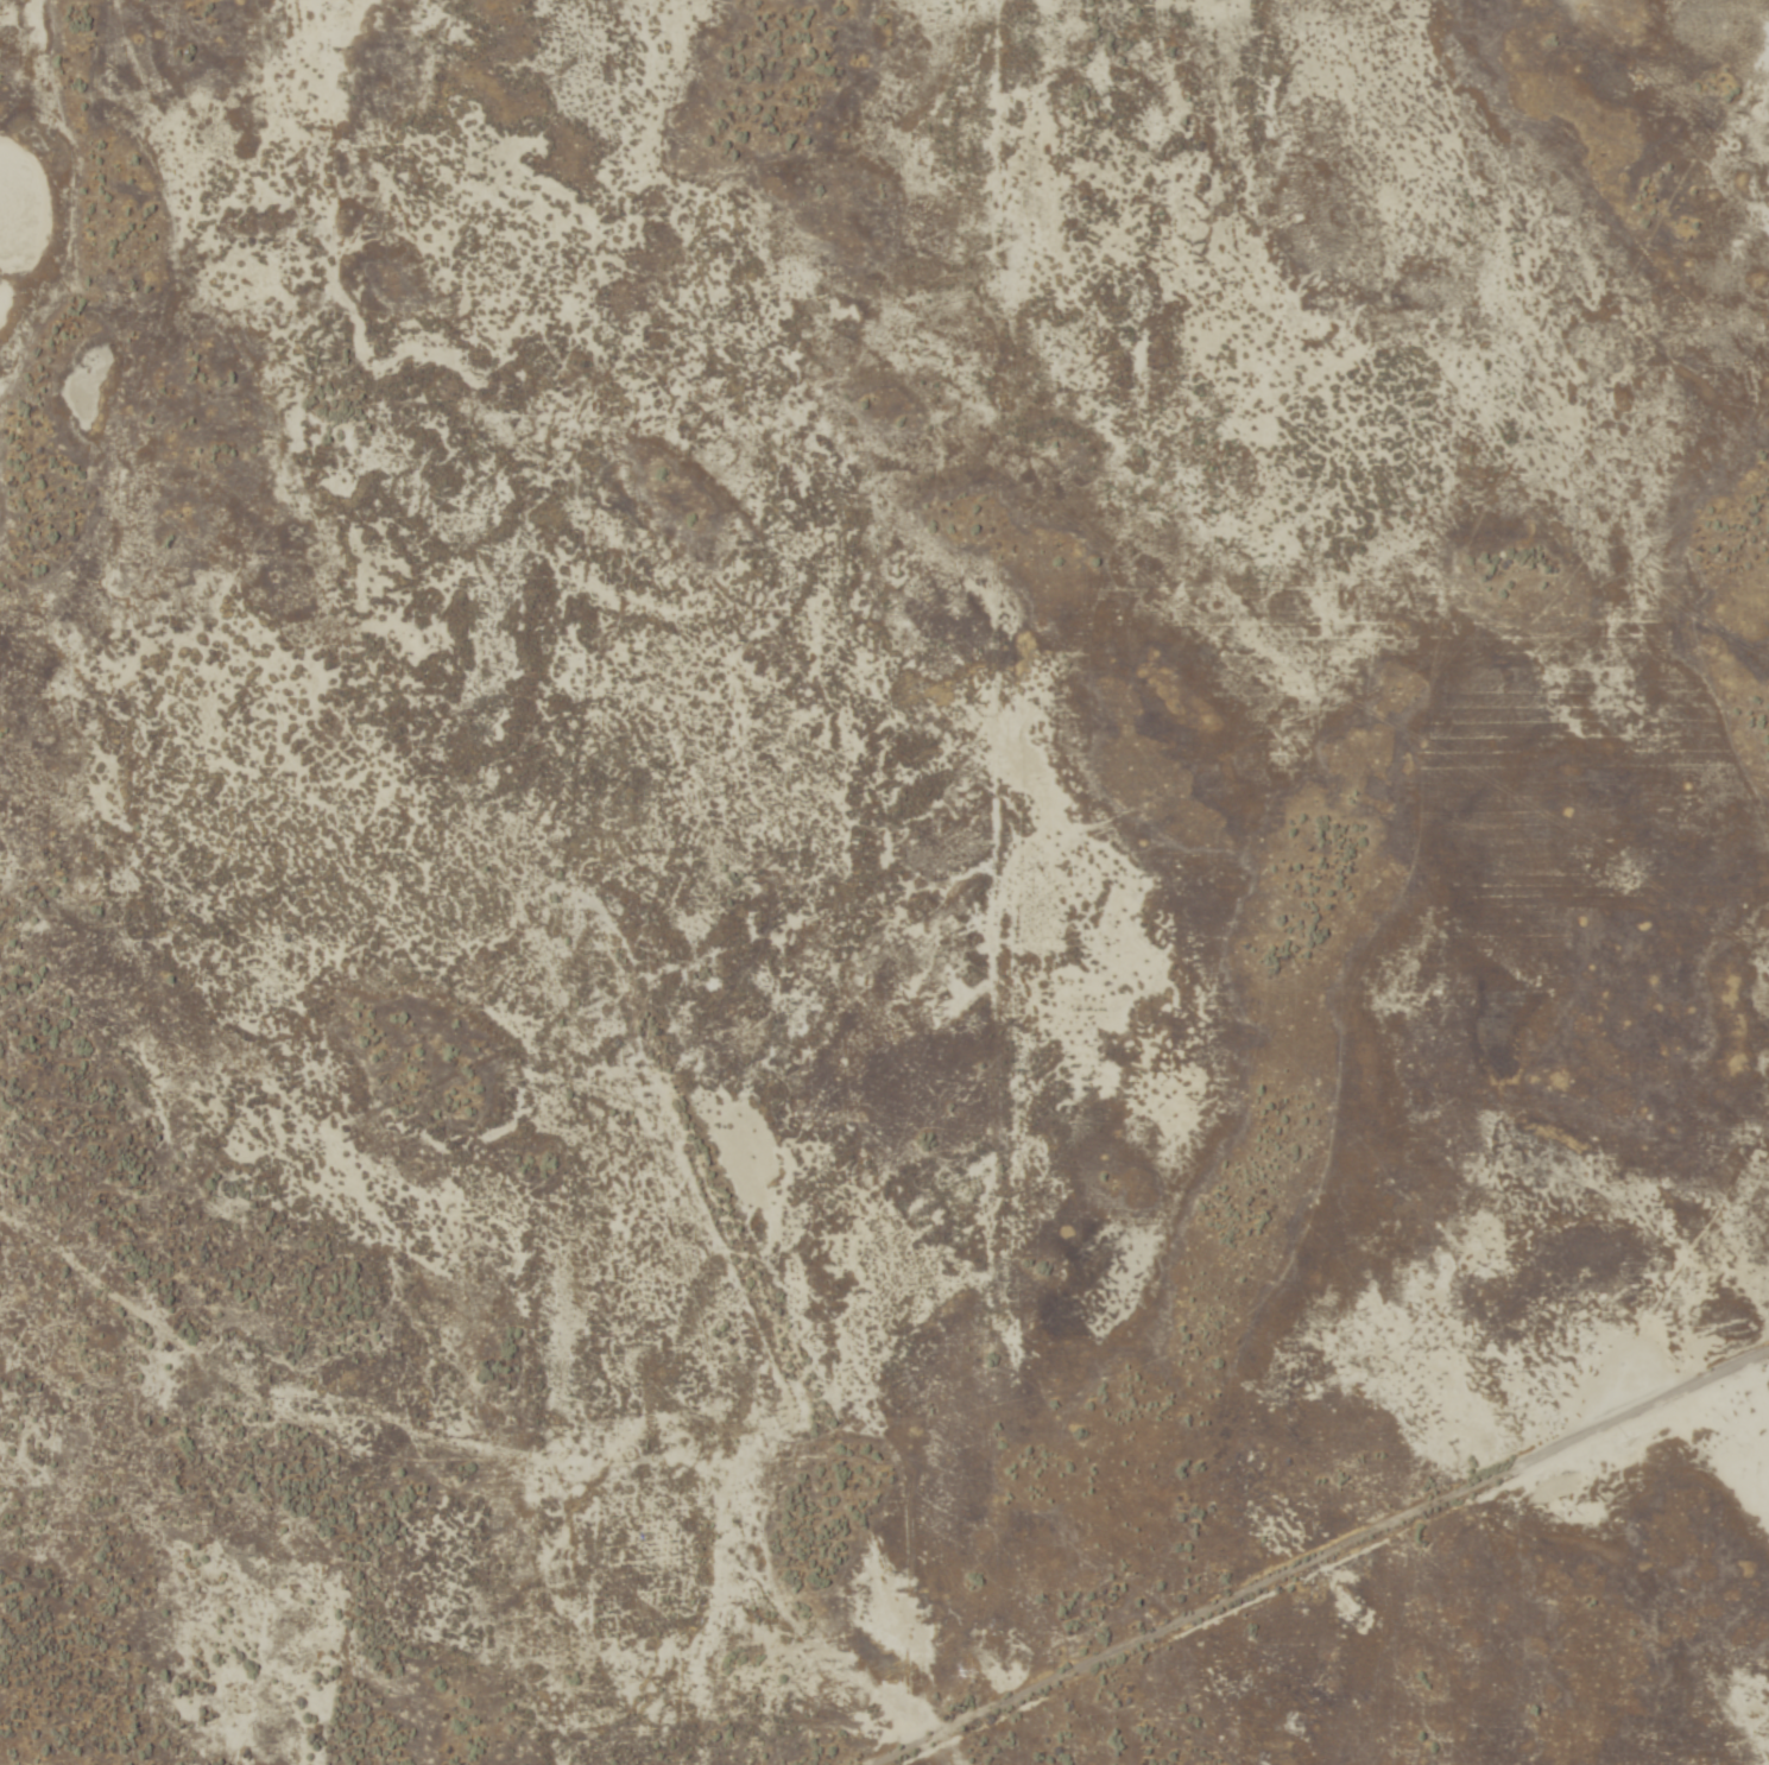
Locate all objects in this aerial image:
road: (1347, 1570)

